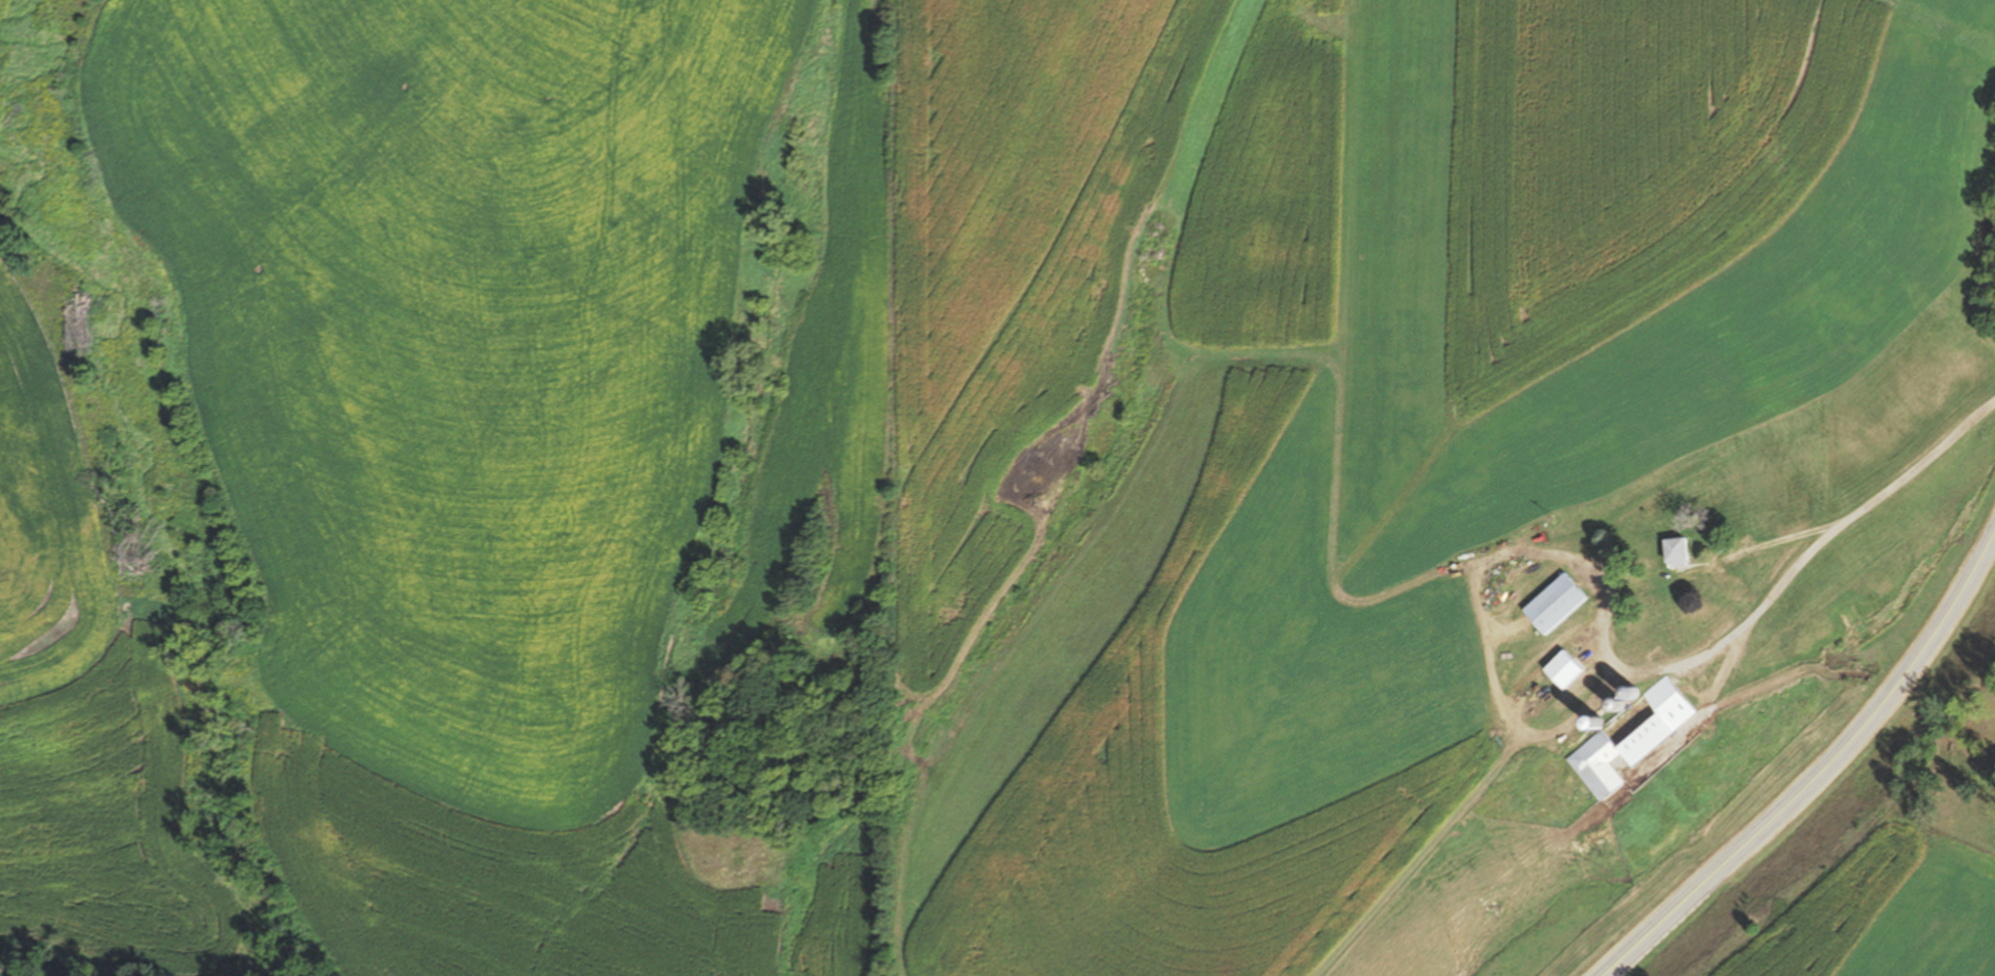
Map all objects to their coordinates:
road: (1892, 486)
building: (1671, 550)
building: (1552, 604)
building: (1548, 678)
building: (1620, 692)
building: (1628, 736)
road: (1819, 773)

